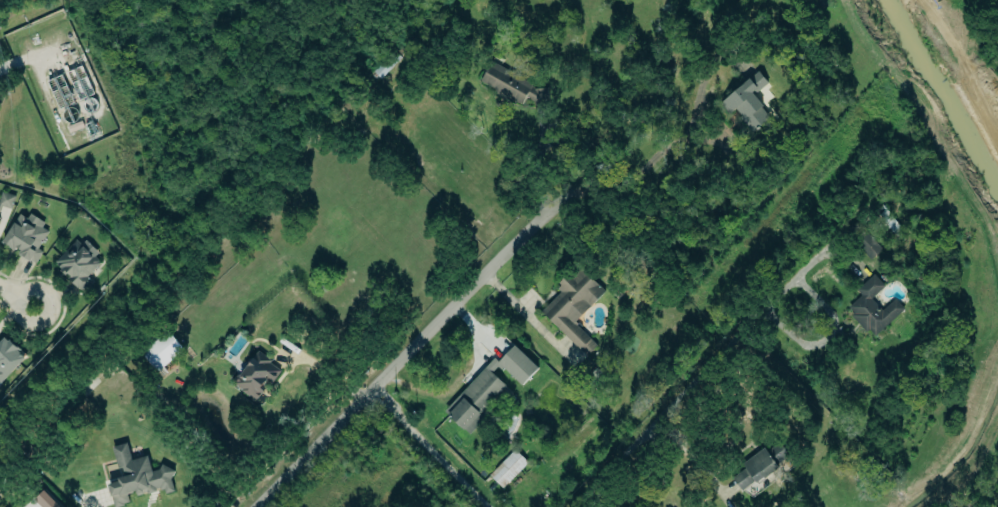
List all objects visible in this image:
building: (386, 64)
building: (513, 85)
river: (939, 100)
building: (748, 102)
road: (536, 162)
road: (622, 178)
building: (6, 200)
building: (887, 222)
building: (26, 236)
building: (863, 240)
building: (79, 262)
road: (16, 297)
building: (873, 306)
building: (573, 307)
building: (161, 350)
building: (8, 357)
road: (401, 358)
building: (256, 378)
road: (695, 379)
building: (473, 400)
road: (429, 448)
road: (687, 451)
building: (761, 466)
building: (507, 468)
building: (138, 476)
building: (45, 500)

